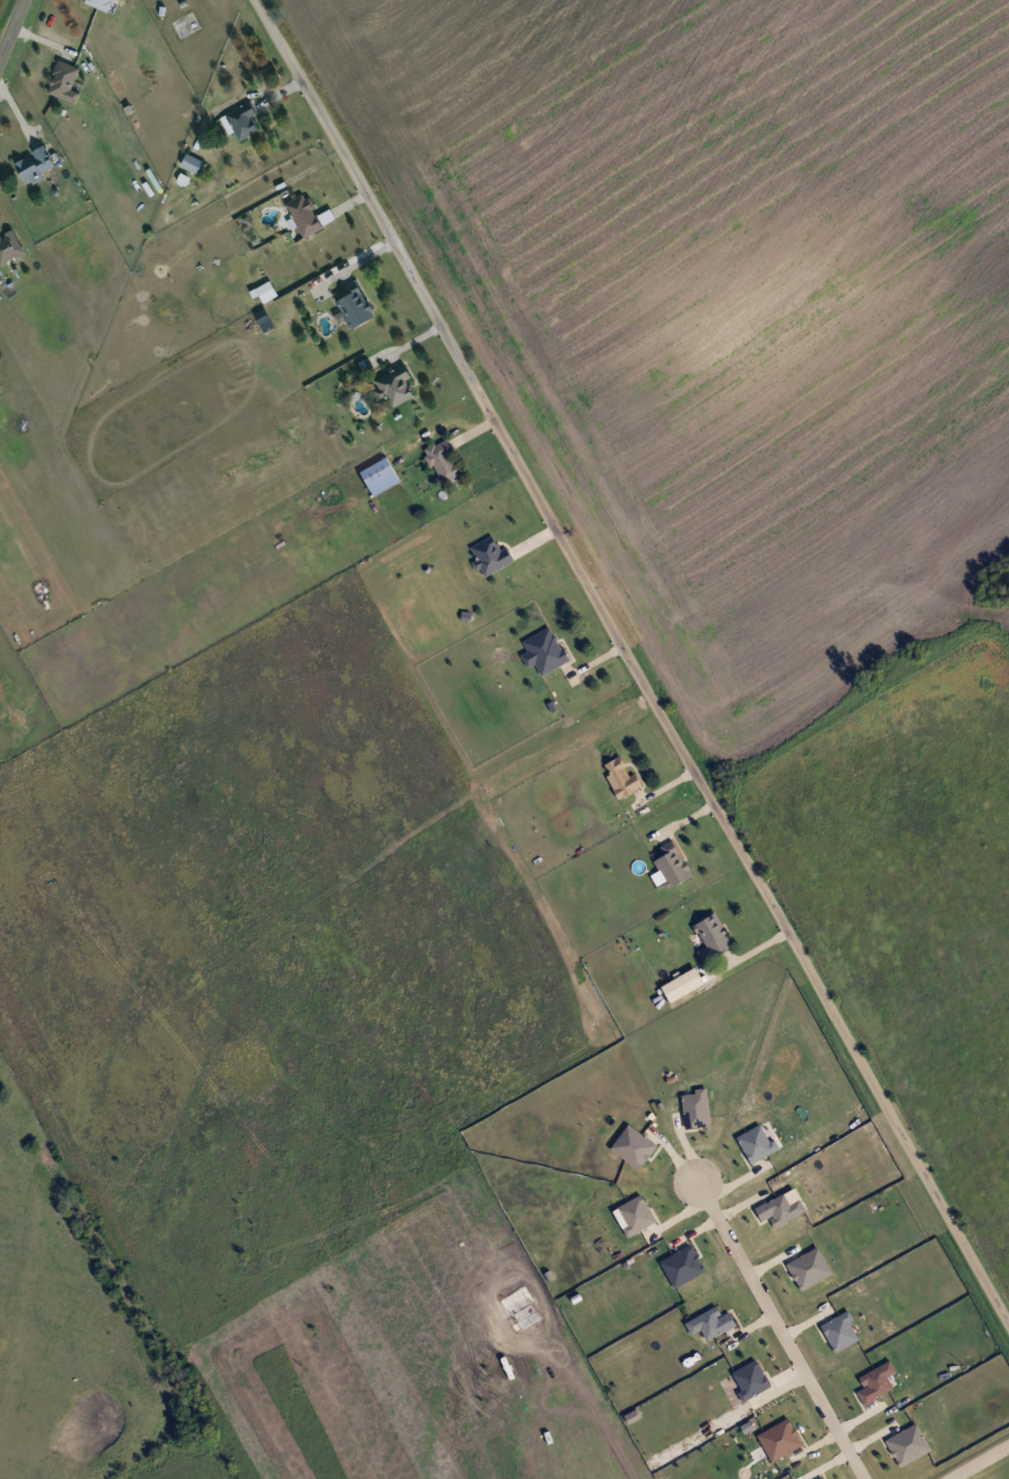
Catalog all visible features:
building: (95, 2)
road: (9, 22)
building: (58, 79)
building: (236, 117)
building: (186, 160)
building: (28, 162)
building: (298, 212)
building: (6, 244)
building: (349, 302)
building: (391, 383)
building: (440, 461)
building: (376, 475)
building: (488, 554)
building: (543, 650)
road: (630, 664)
building: (620, 775)
building: (669, 863)
building: (707, 935)
road: (778, 1330)
road: (976, 1460)

